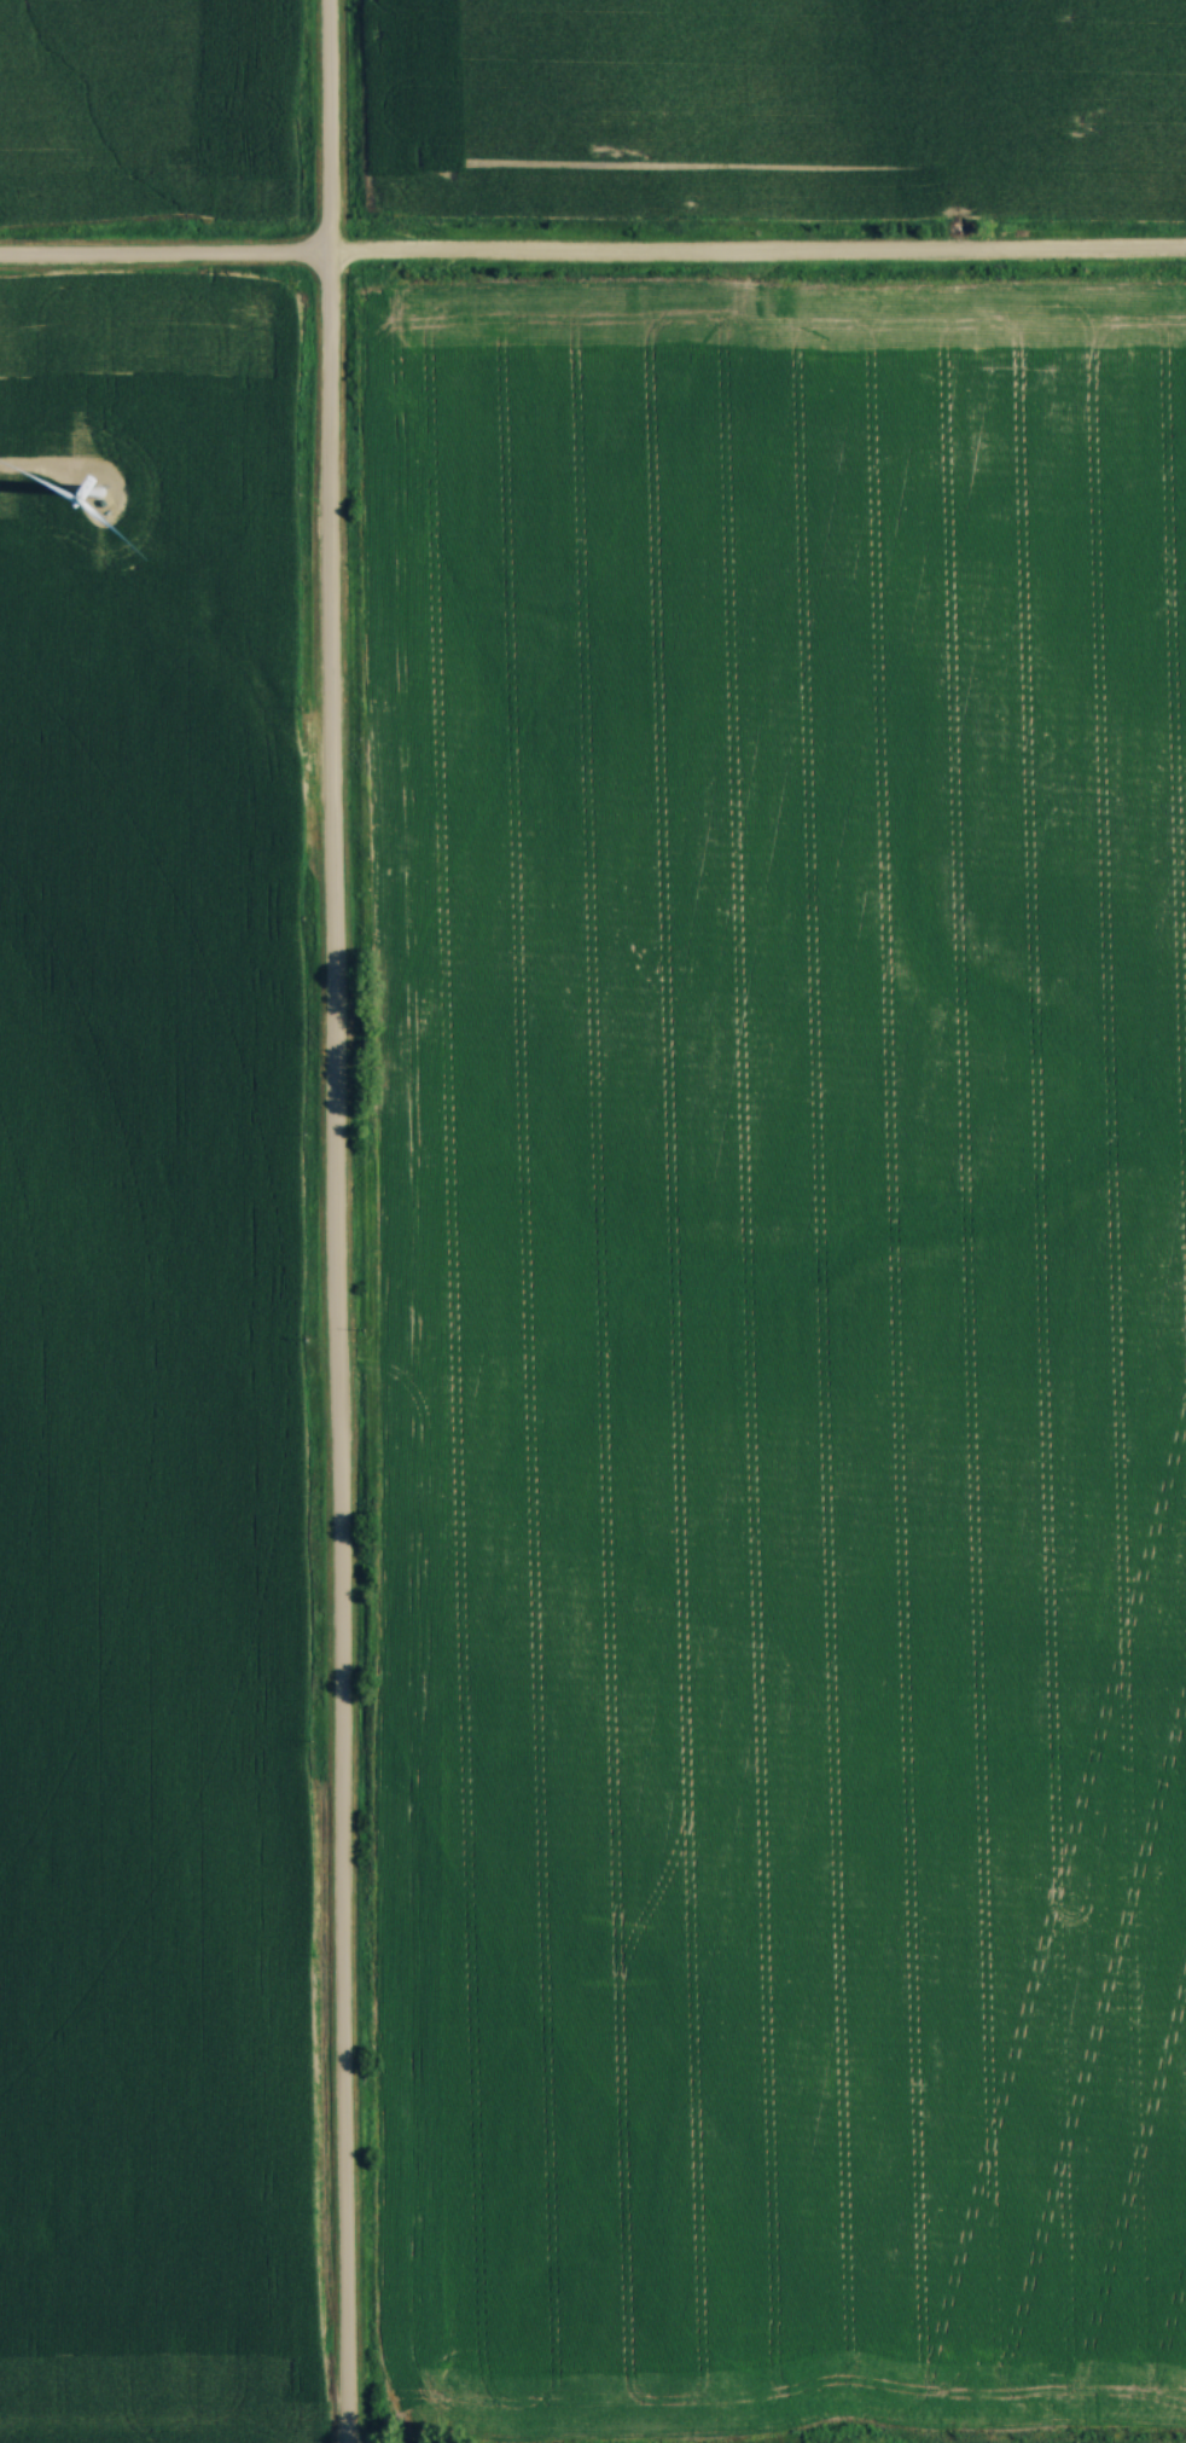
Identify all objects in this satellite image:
road: (592, 259)
wind turbine: (101, 491)
road: (336, 1220)

